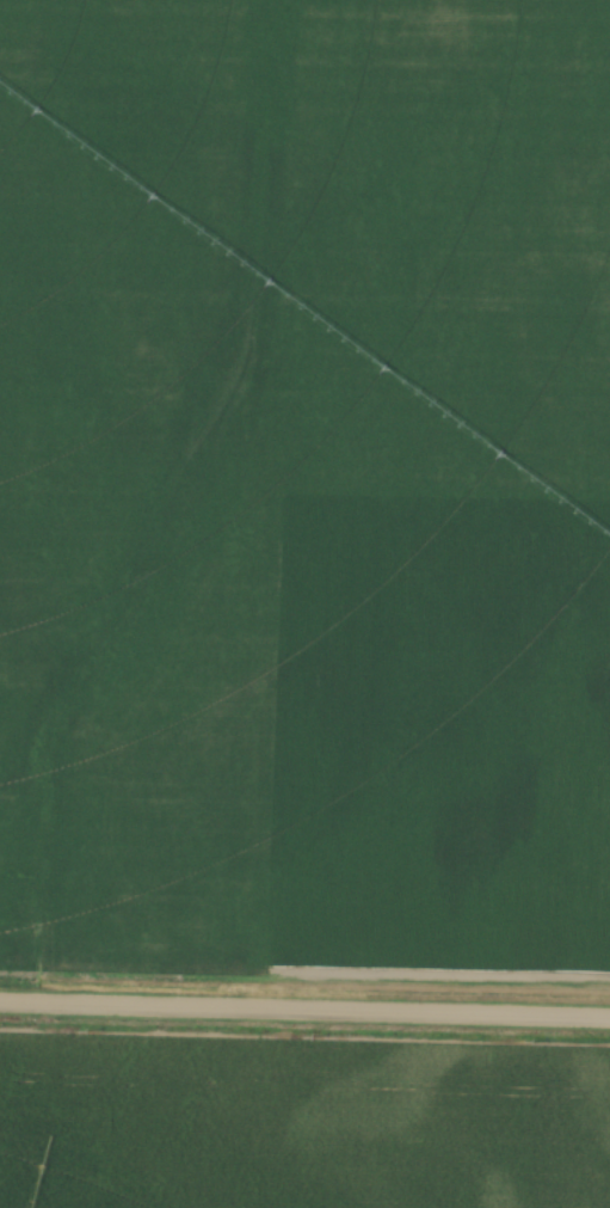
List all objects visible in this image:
road: (304, 1016)

